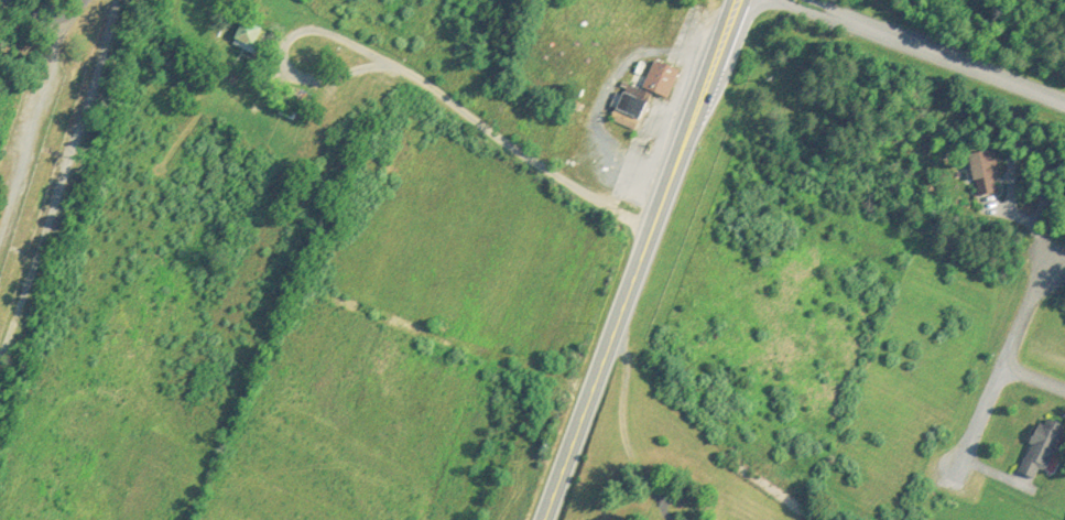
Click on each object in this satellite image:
road: (62, 19)
building: (247, 32)
road: (934, 50)
building: (231, 73)
road: (412, 73)
building: (183, 83)
building: (643, 88)
building: (295, 91)
parking lot: (651, 115)
road: (32, 119)
parking lot: (28, 131)
building: (984, 170)
road: (61, 175)
road: (637, 259)
road: (1013, 337)
road: (980, 418)
building: (1041, 442)
building: (686, 518)

